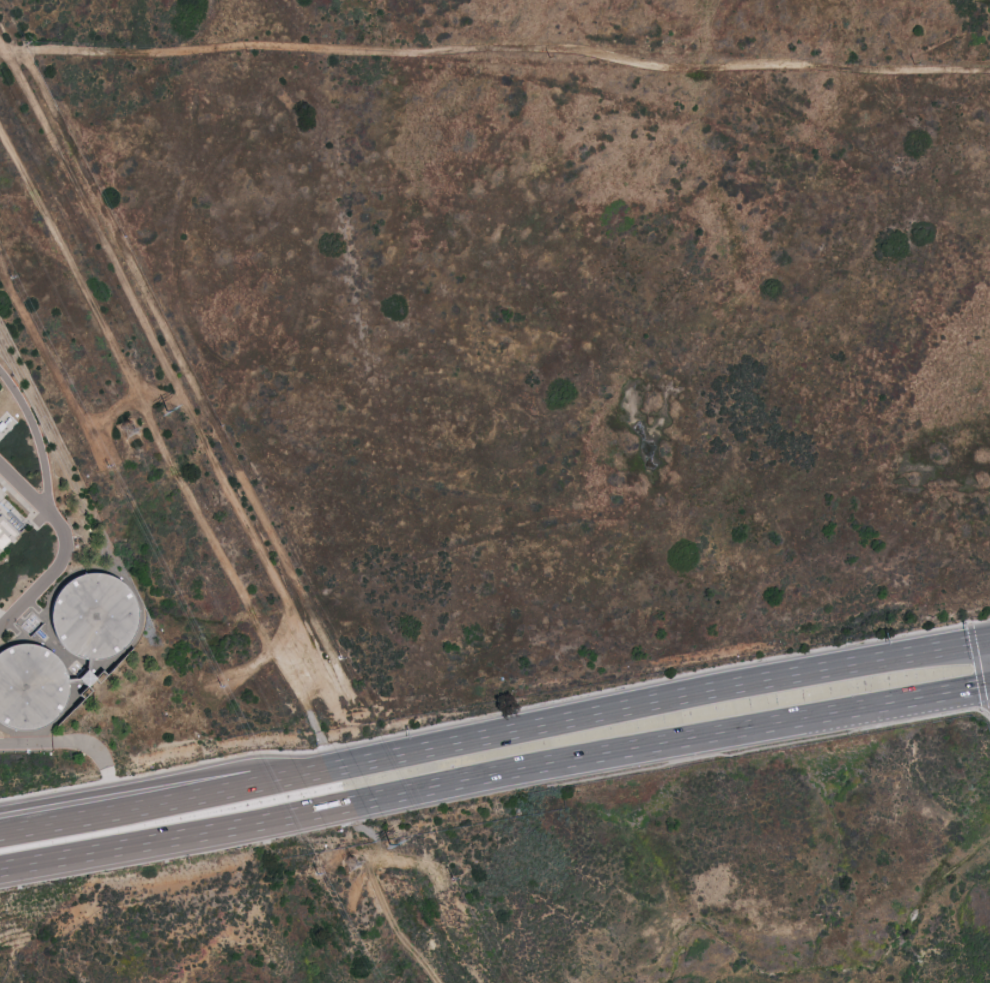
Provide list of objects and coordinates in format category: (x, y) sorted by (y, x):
power tower: (169, 413)
power tower: (131, 432)
road: (37, 438)
building: (10, 530)
road: (66, 547)
silo: (88, 608)
road: (815, 673)
silo: (25, 682)
road: (495, 712)
road: (830, 714)
road: (507, 734)
road: (70, 744)
road: (526, 768)
road: (168, 781)
road: (187, 798)
road: (207, 825)
power tower: (392, 845)
road: (17, 858)
power tower: (357, 864)

